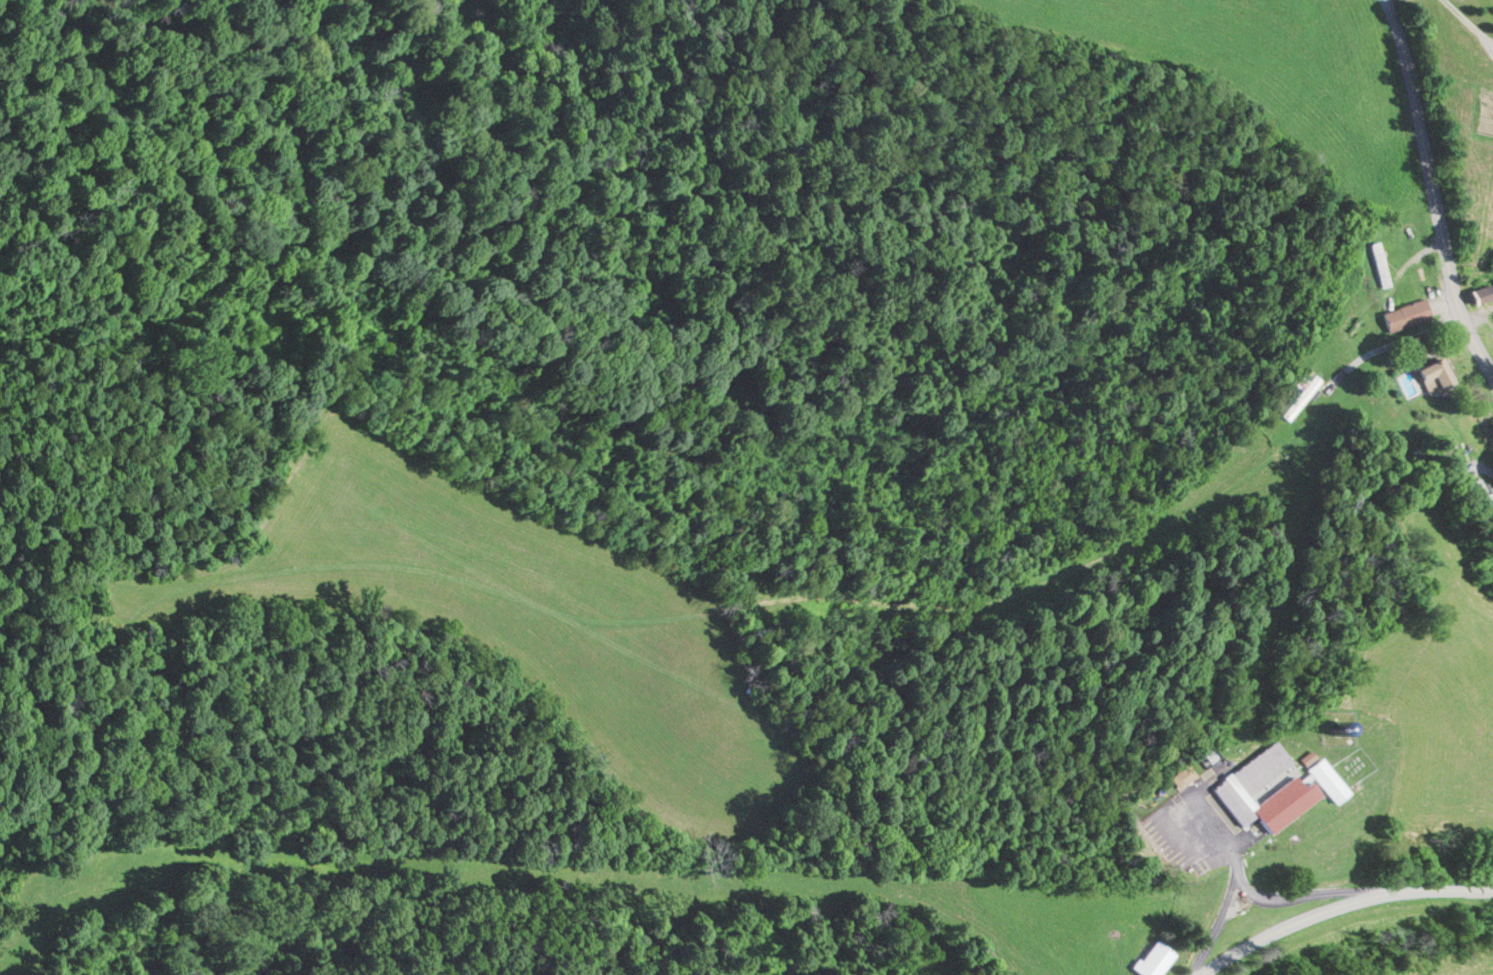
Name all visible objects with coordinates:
road: (1468, 23)
road: (1432, 188)
building: (1380, 265)
building: (1480, 294)
building: (1408, 316)
building: (1433, 376)
building: (1303, 398)
building: (1308, 757)
building: (1259, 770)
building: (1183, 777)
building: (1298, 795)
road: (1226, 837)
road: (1309, 890)
road: (1342, 906)
road: (1213, 924)
building: (1154, 960)

